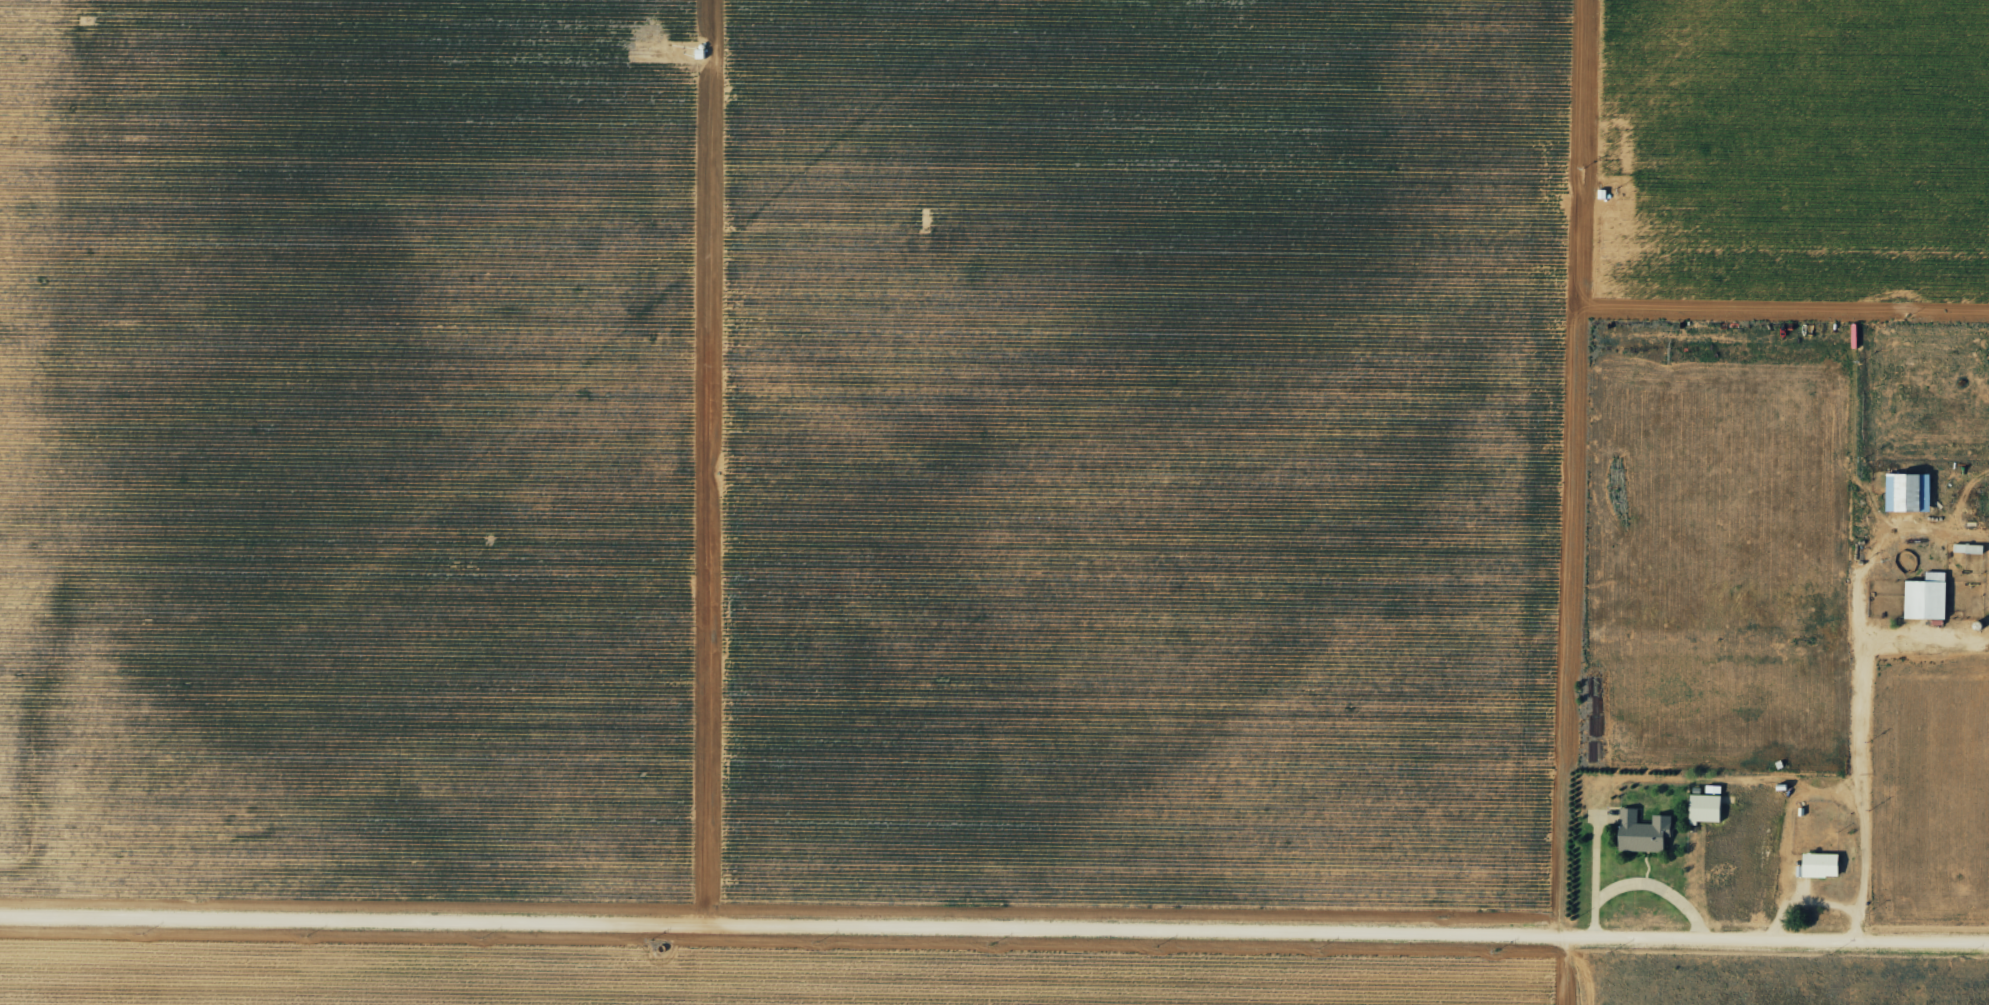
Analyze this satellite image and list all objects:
building: (1906, 492)
building: (1966, 548)
building: (1925, 597)
road: (1863, 752)
building: (1703, 809)
building: (1641, 832)
building: (1818, 865)
road: (1801, 900)
road: (1853, 925)
road: (994, 934)
road: (1579, 973)

